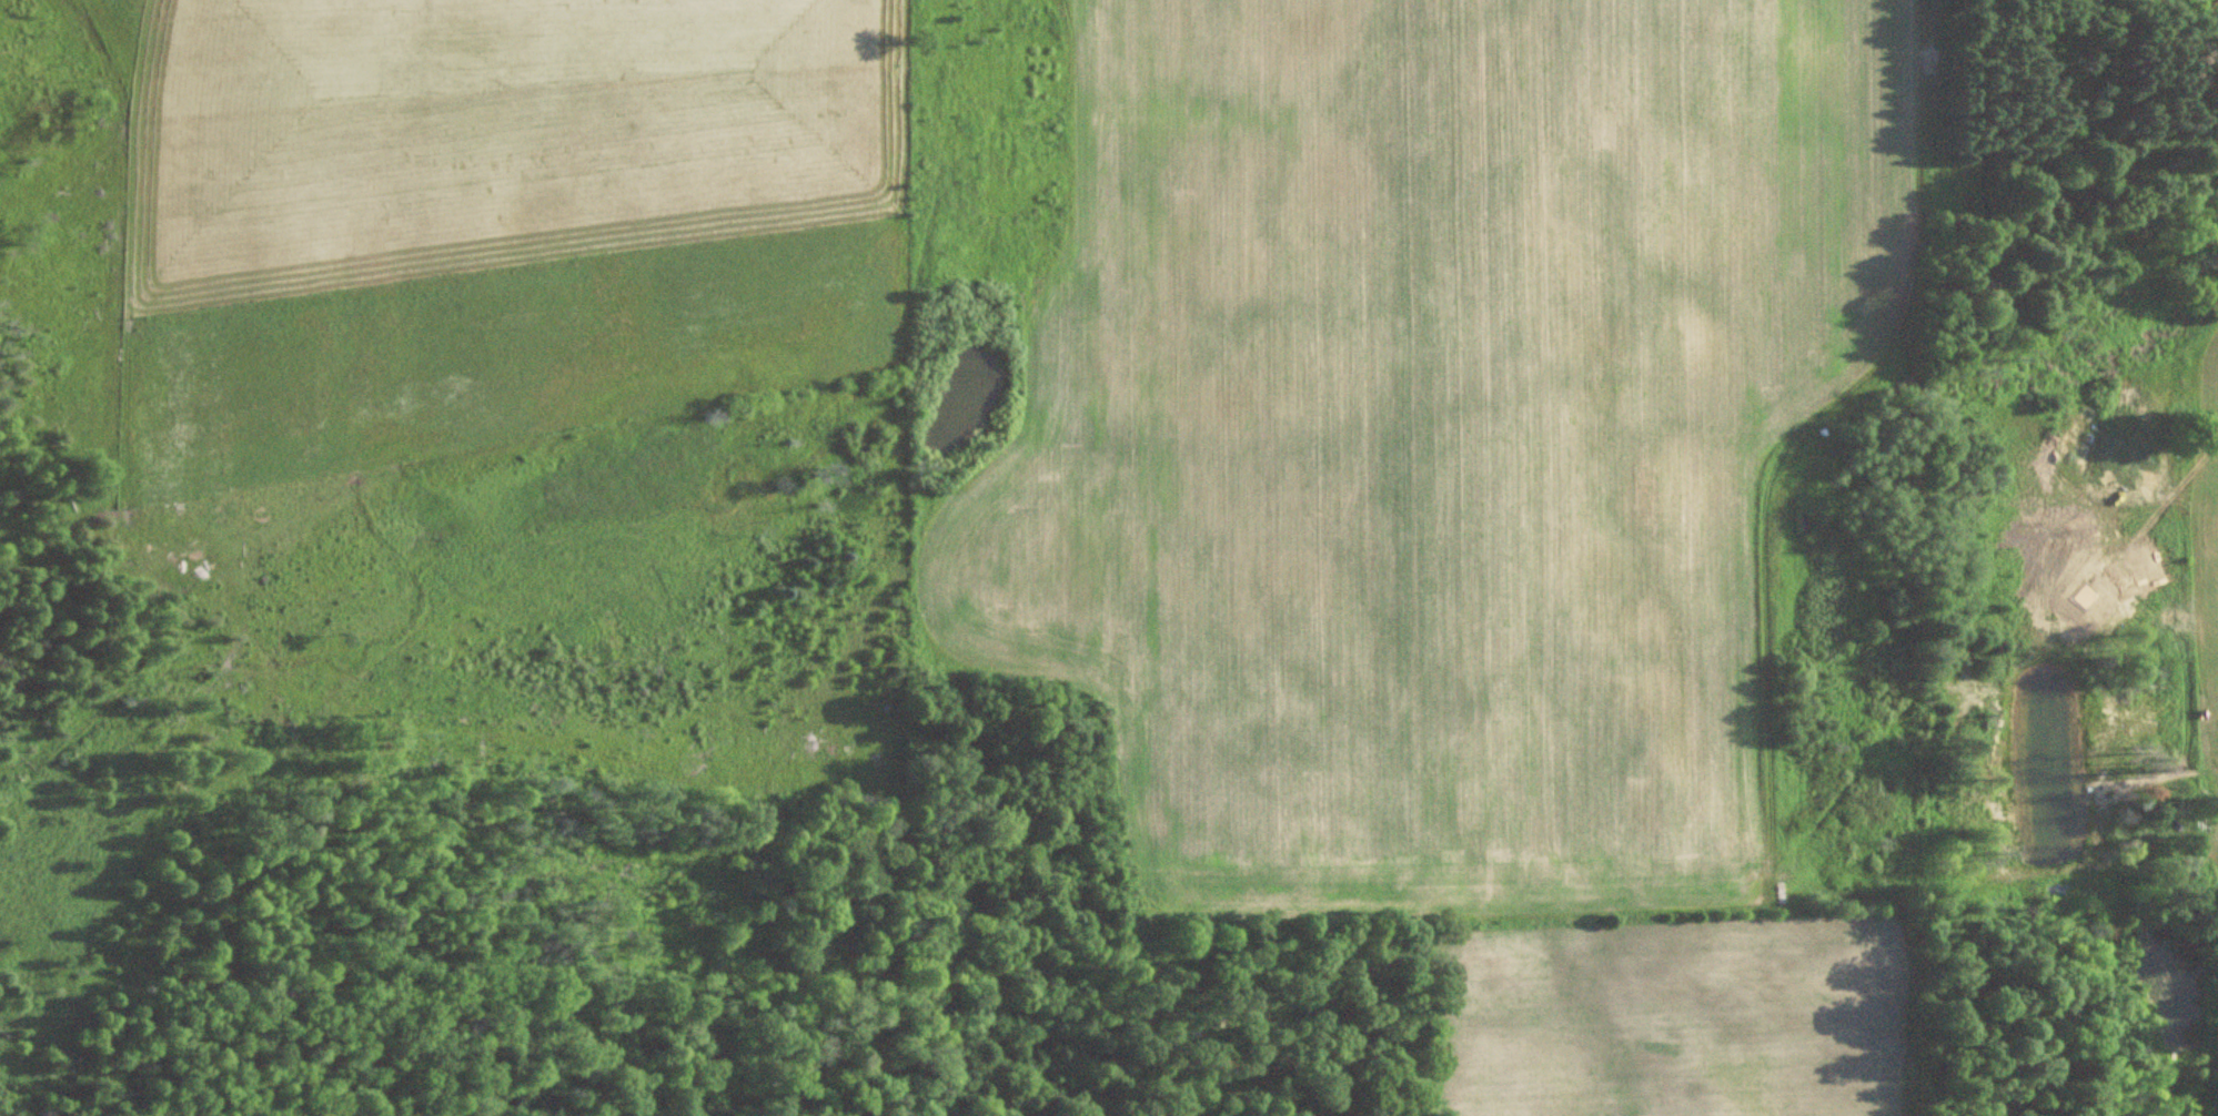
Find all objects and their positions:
crop: (1433, 428)

